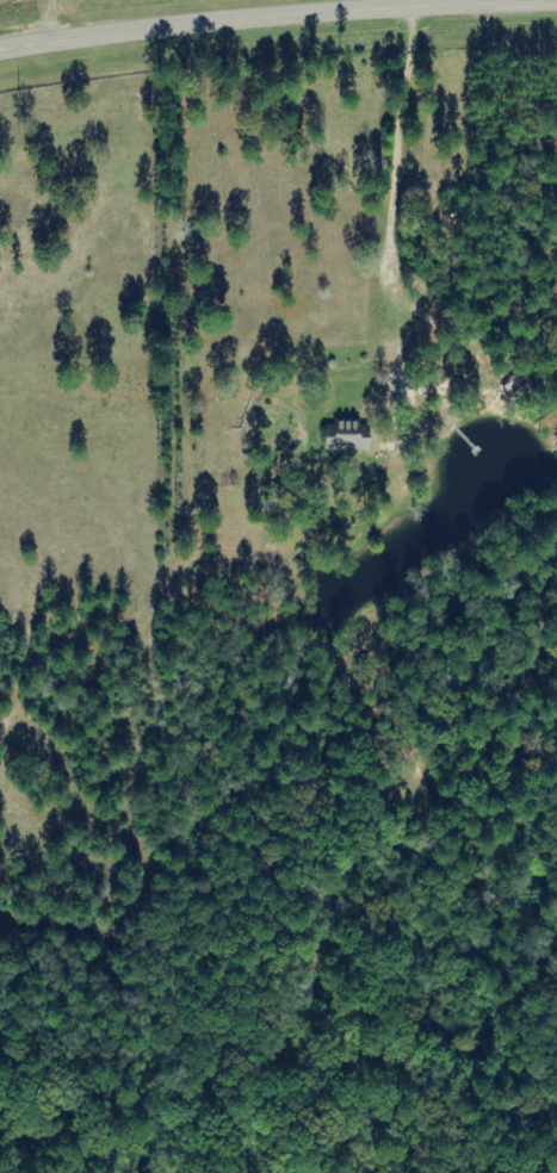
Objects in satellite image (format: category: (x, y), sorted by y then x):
road: (249, 15)
building: (363, 433)

